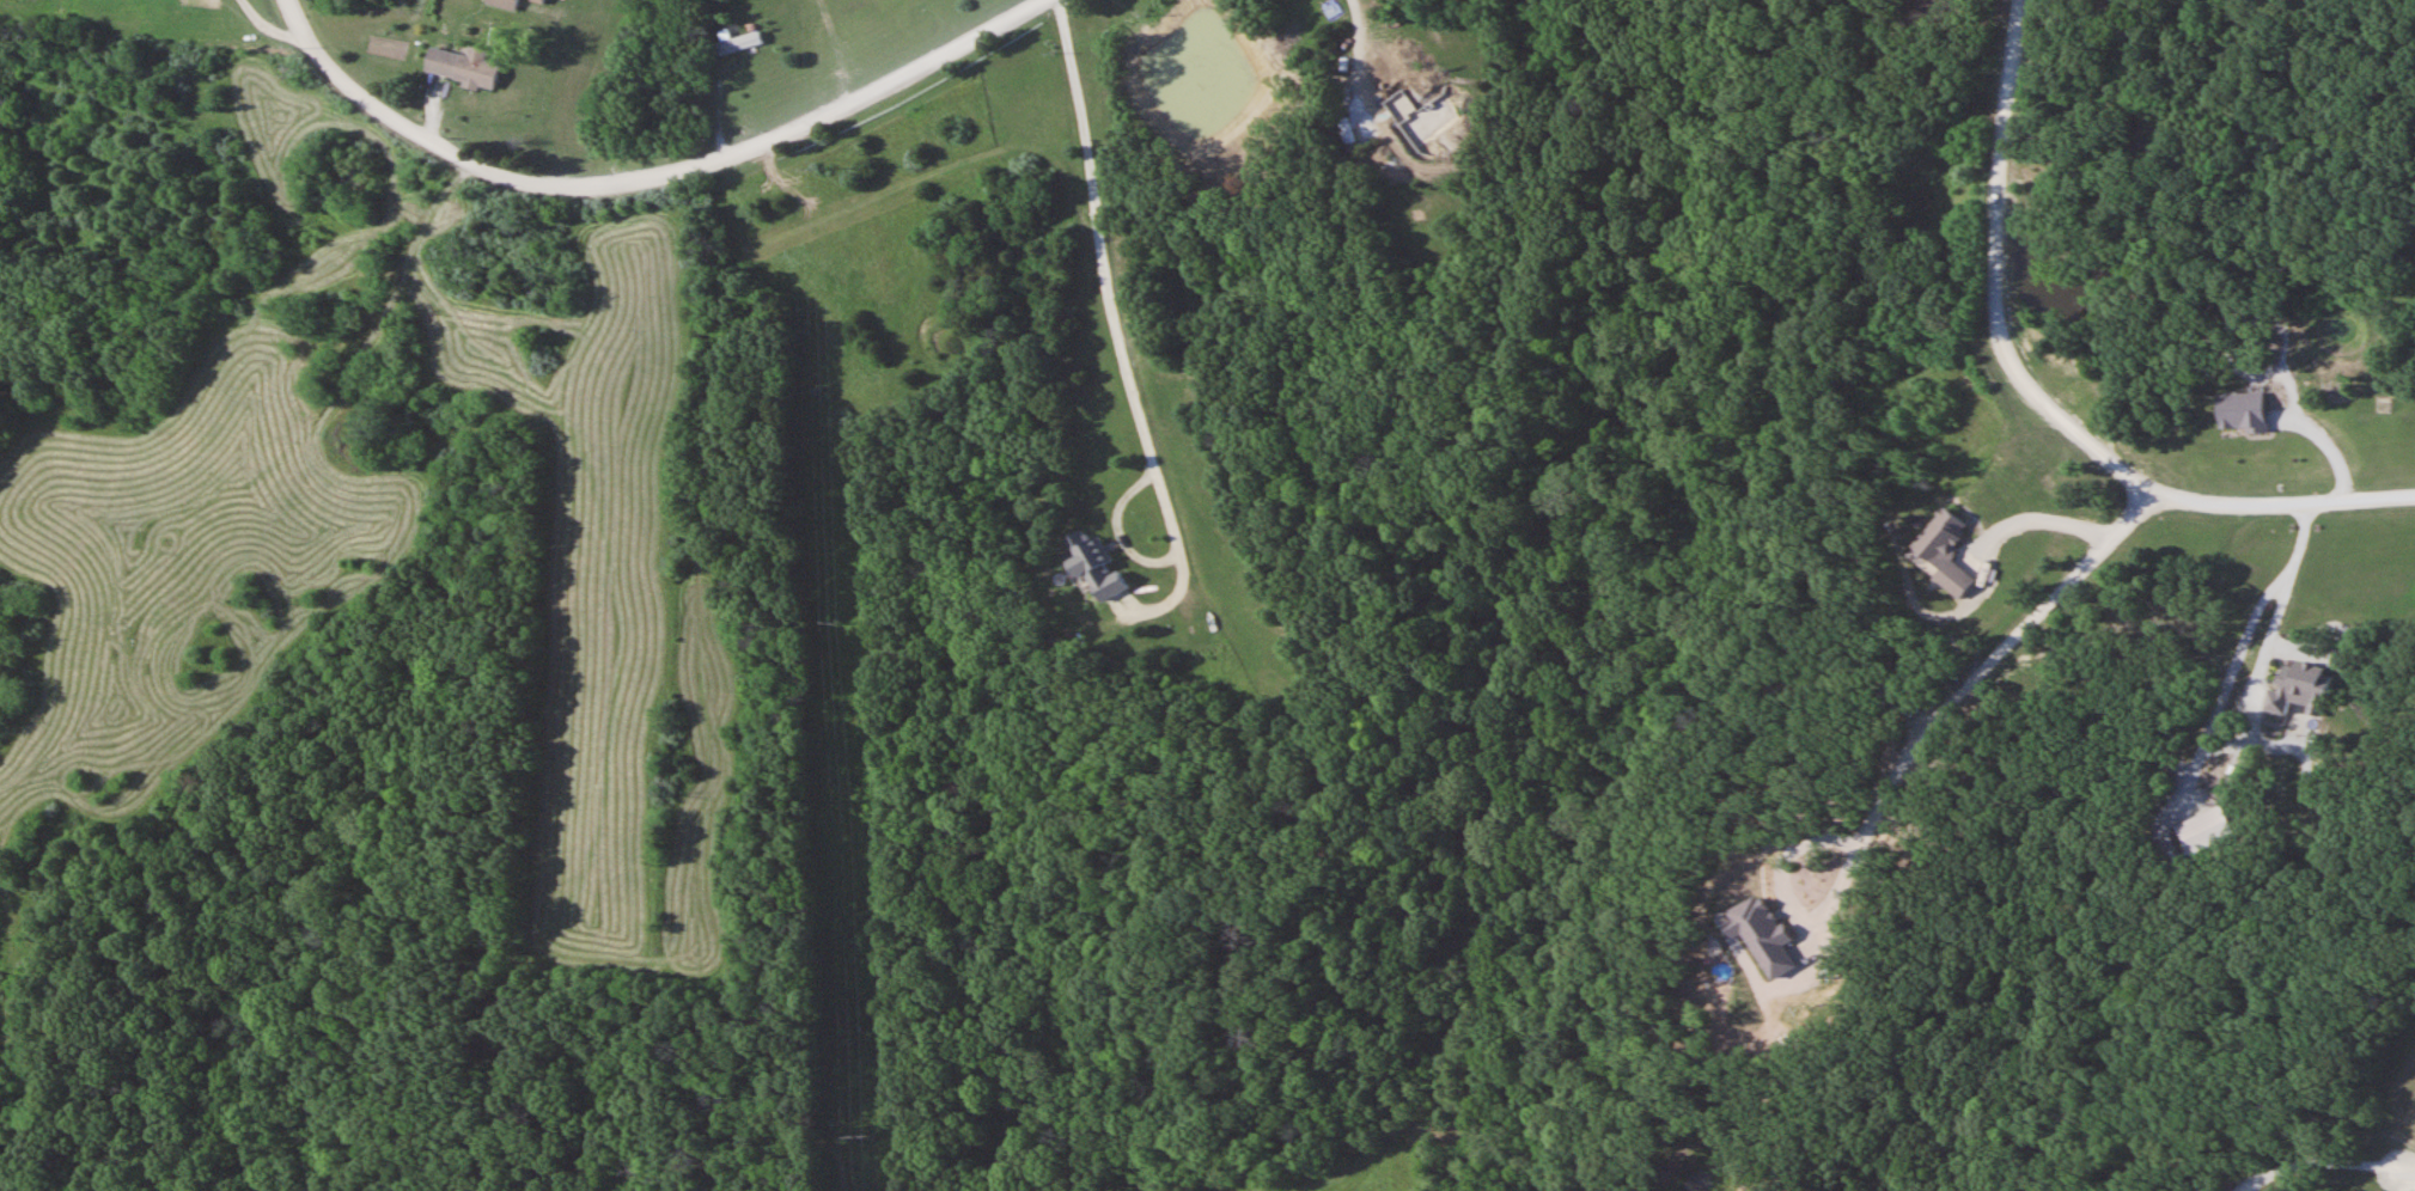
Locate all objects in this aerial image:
building: (502, 4)
building: (740, 42)
road: (1367, 51)
building: (462, 67)
building: (1419, 115)
power tower: (825, 167)
road: (655, 177)
road: (1117, 319)
road: (2039, 396)
road: (2041, 520)
building: (1949, 552)
building: (1099, 564)
power tower: (823, 624)
building: (2304, 689)
road: (2246, 739)
road: (1909, 755)
building: (2210, 830)
power tower: (847, 1143)
road: (2321, 1162)
road: (2409, 1163)
road: (2414, 1190)

